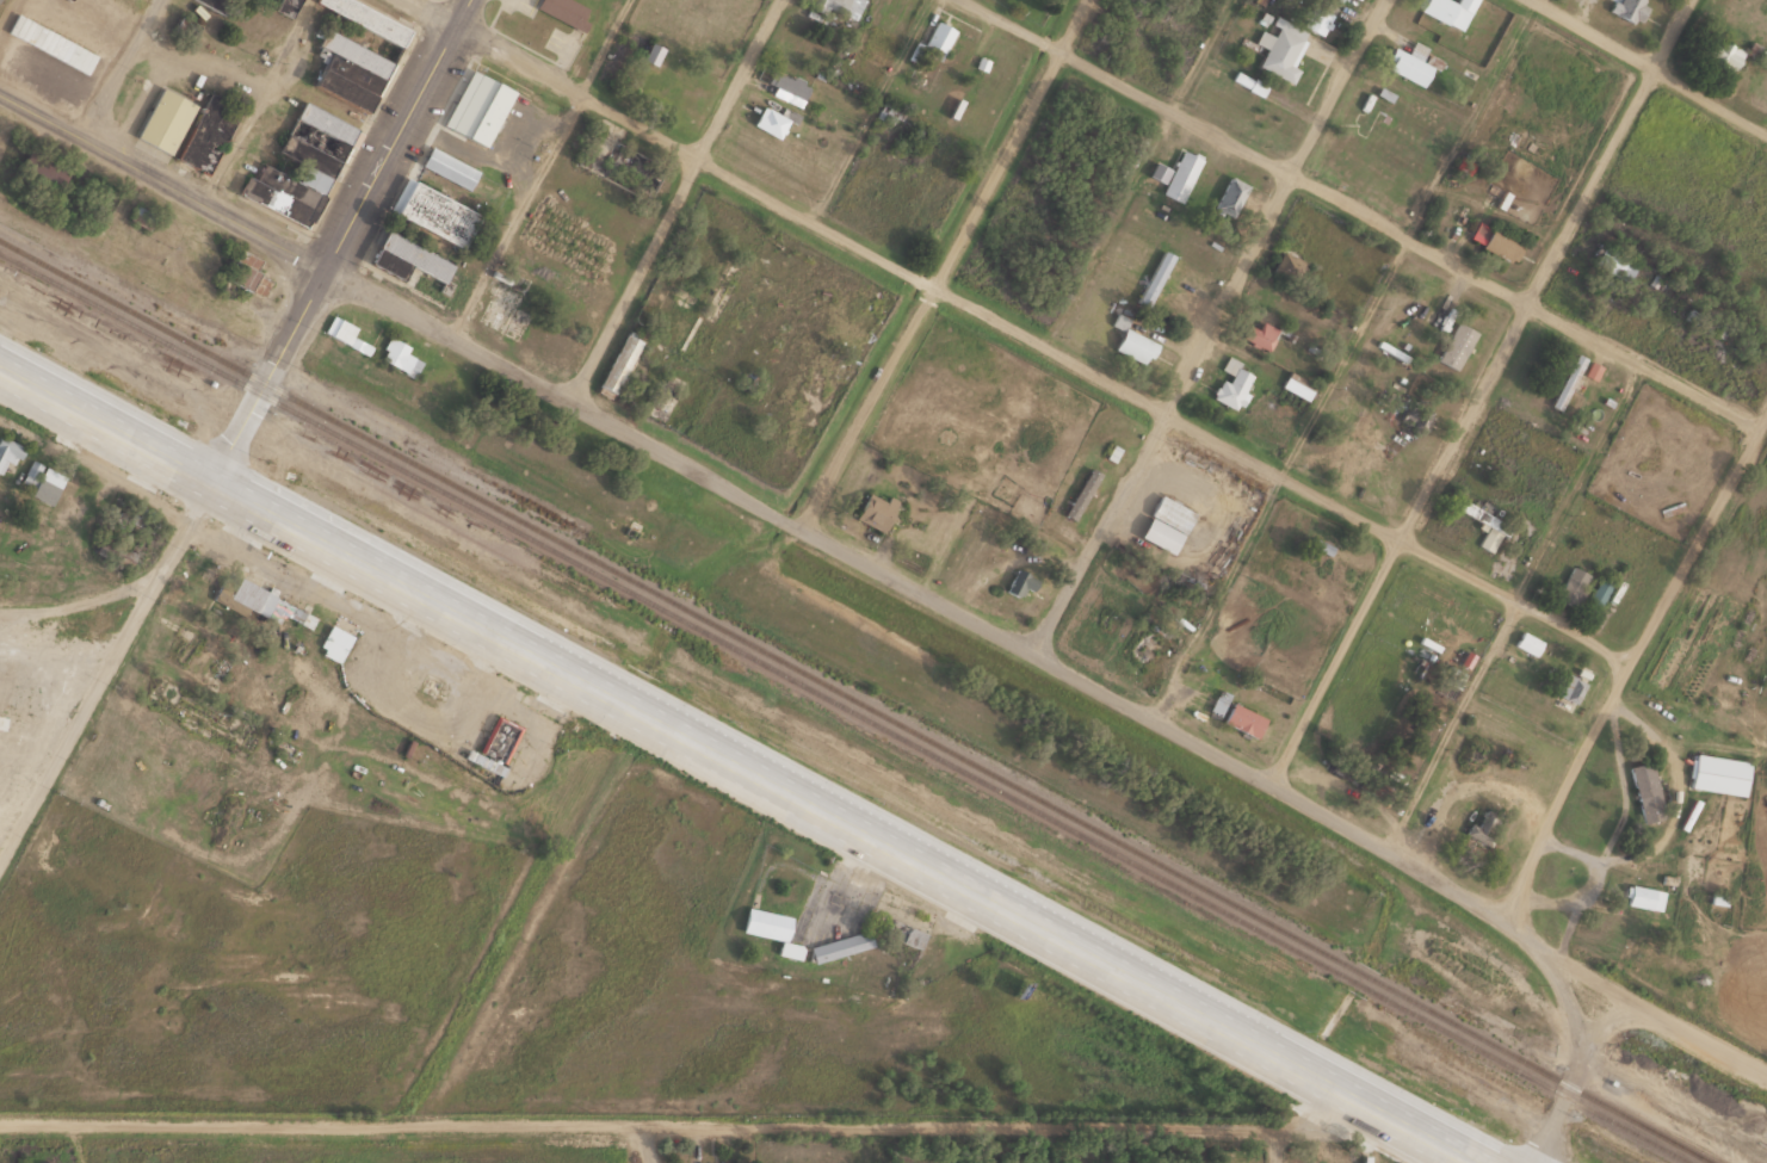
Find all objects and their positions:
building: (827, 5)
building: (285, 6)
building: (1446, 8)
building: (1630, 8)
building: (564, 11)
building: (1317, 13)
building: (186, 25)
building: (940, 35)
building: (1280, 49)
building: (354, 50)
building: (1723, 54)
building: (1409, 62)
road: (122, 68)
road: (1648, 69)
building: (786, 83)
building: (165, 119)
building: (774, 119)
building: (206, 131)
building: (45, 166)
building: (449, 166)
building: (316, 168)
building: (1181, 174)
road: (162, 177)
building: (1230, 194)
road: (680, 202)
building: (434, 211)
road: (1363, 216)
road: (336, 240)
building: (1501, 242)
building: (1293, 254)
building: (407, 256)
building: (1613, 260)
road: (946, 265)
building: (247, 272)
building: (1155, 278)
road: (1210, 326)
building: (352, 332)
road: (1012, 332)
building: (1259, 332)
building: (1135, 345)
building: (1456, 345)
building: (401, 357)
building: (619, 361)
building: (1568, 381)
building: (1234, 383)
building: (1298, 385)
road: (1481, 391)
building: (1669, 426)
building: (10, 451)
building: (39, 483)
building: (873, 509)
building: (1170, 512)
building: (1491, 531)
road: (319, 538)
building: (1019, 582)
building: (1573, 584)
building: (1600, 589)
building: (245, 595)
building: (1407, 605)
road: (72, 606)
building: (301, 611)
road: (980, 624)
building: (338, 636)
building: (1528, 642)
building: (1147, 647)
road: (99, 655)
road: (1630, 666)
building: (1569, 692)
railway: (855, 700)
building: (1217, 703)
railway: (842, 706)
building: (1243, 719)
building: (495, 746)
building: (1718, 773)
building: (1645, 791)
building: (1482, 828)
building: (1639, 866)
building: (1643, 897)
building: (771, 928)
building: (904, 933)
road: (1067, 935)
building: (840, 946)
road: (1568, 995)
road: (1698, 1035)
road: (1576, 1076)
road: (1675, 1107)
road: (685, 1118)

